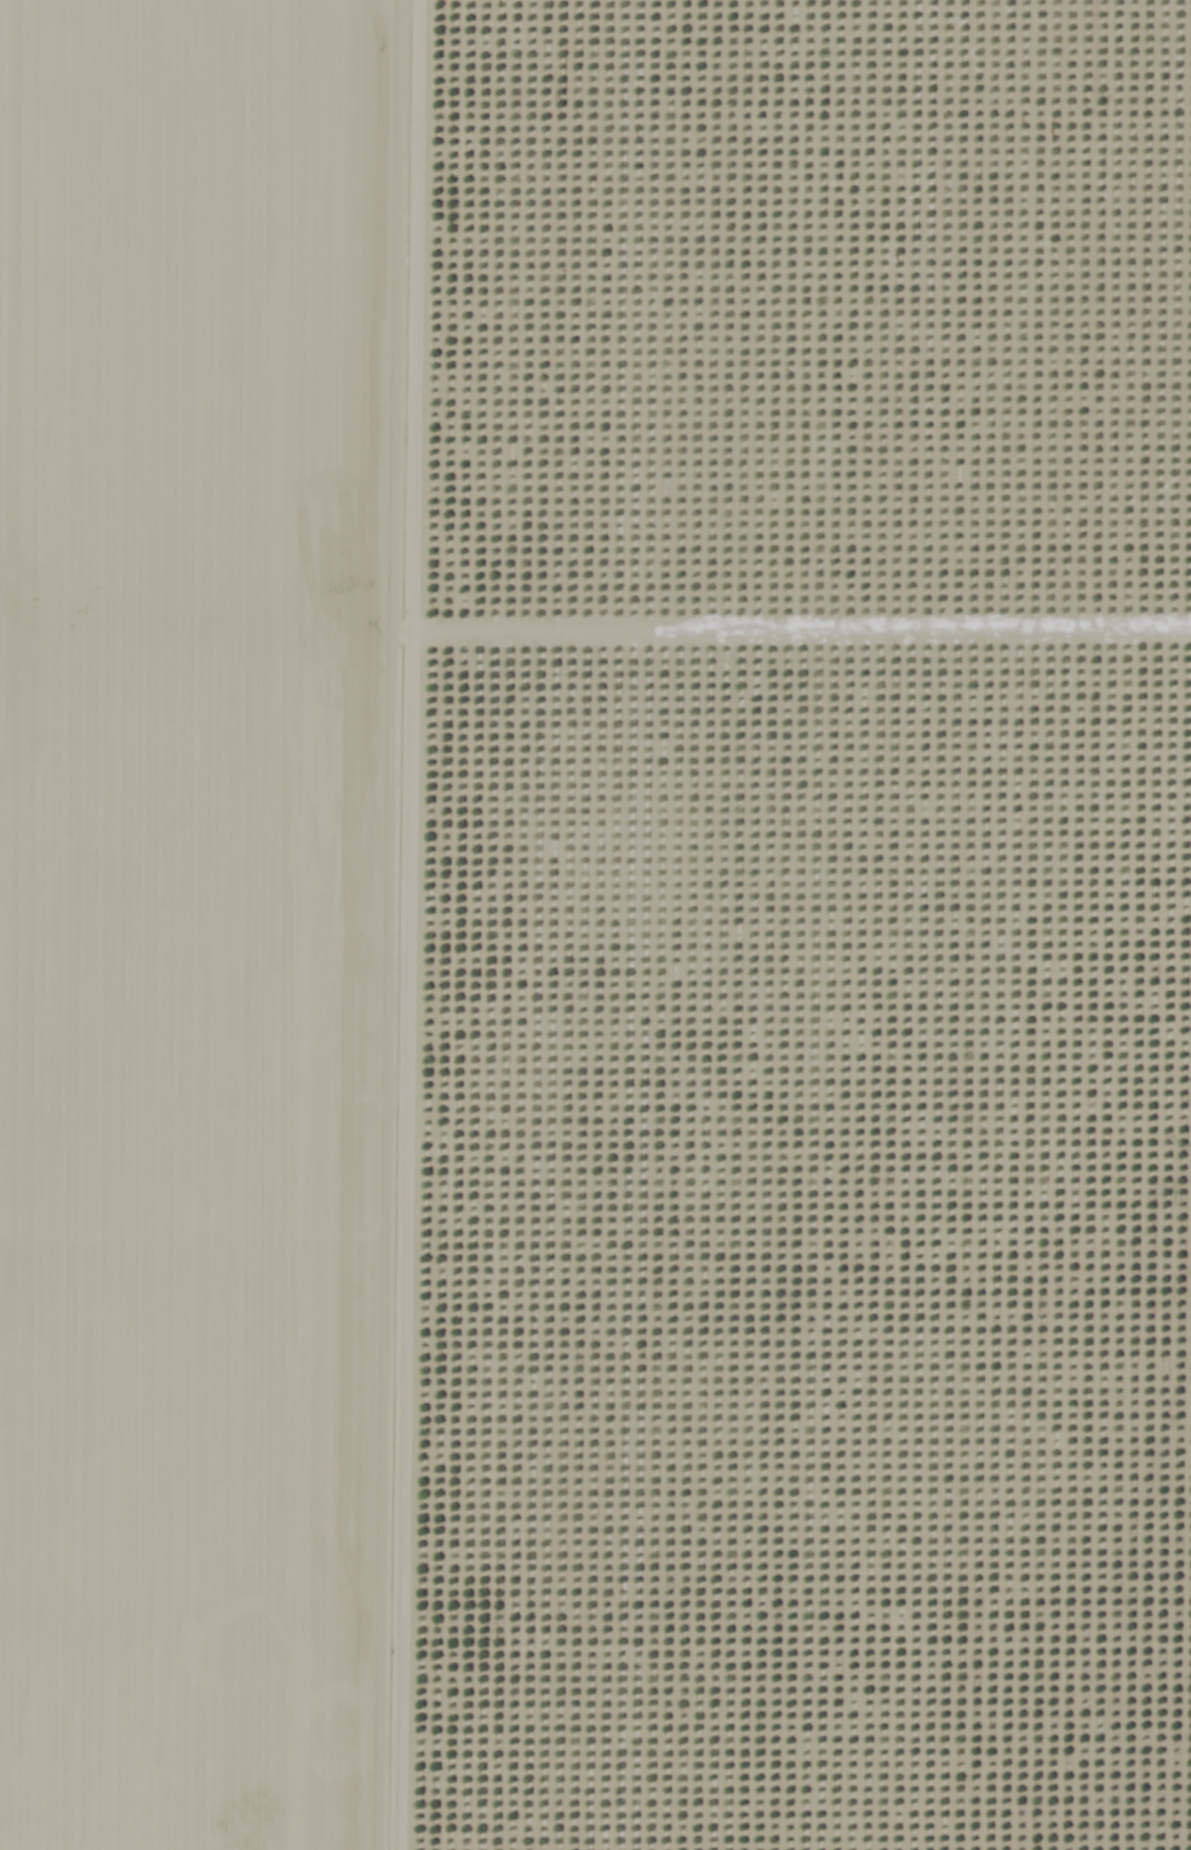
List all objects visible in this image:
crop: (217, 917)
road: (435, 924)
crop: (813, 929)

